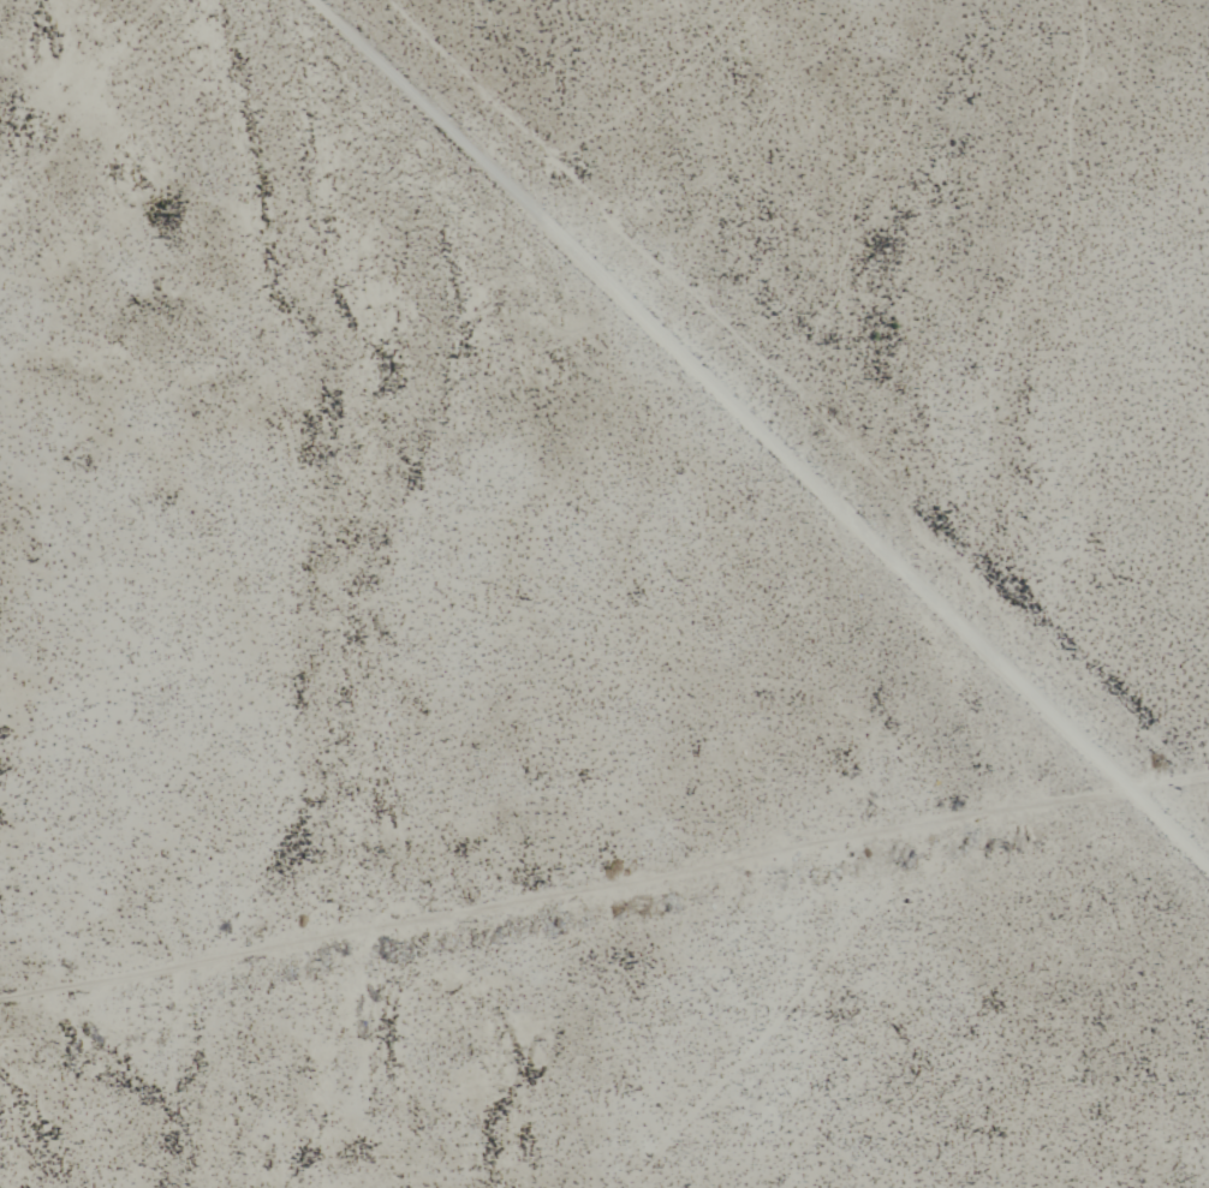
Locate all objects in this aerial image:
road: (756, 435)
road: (603, 884)

